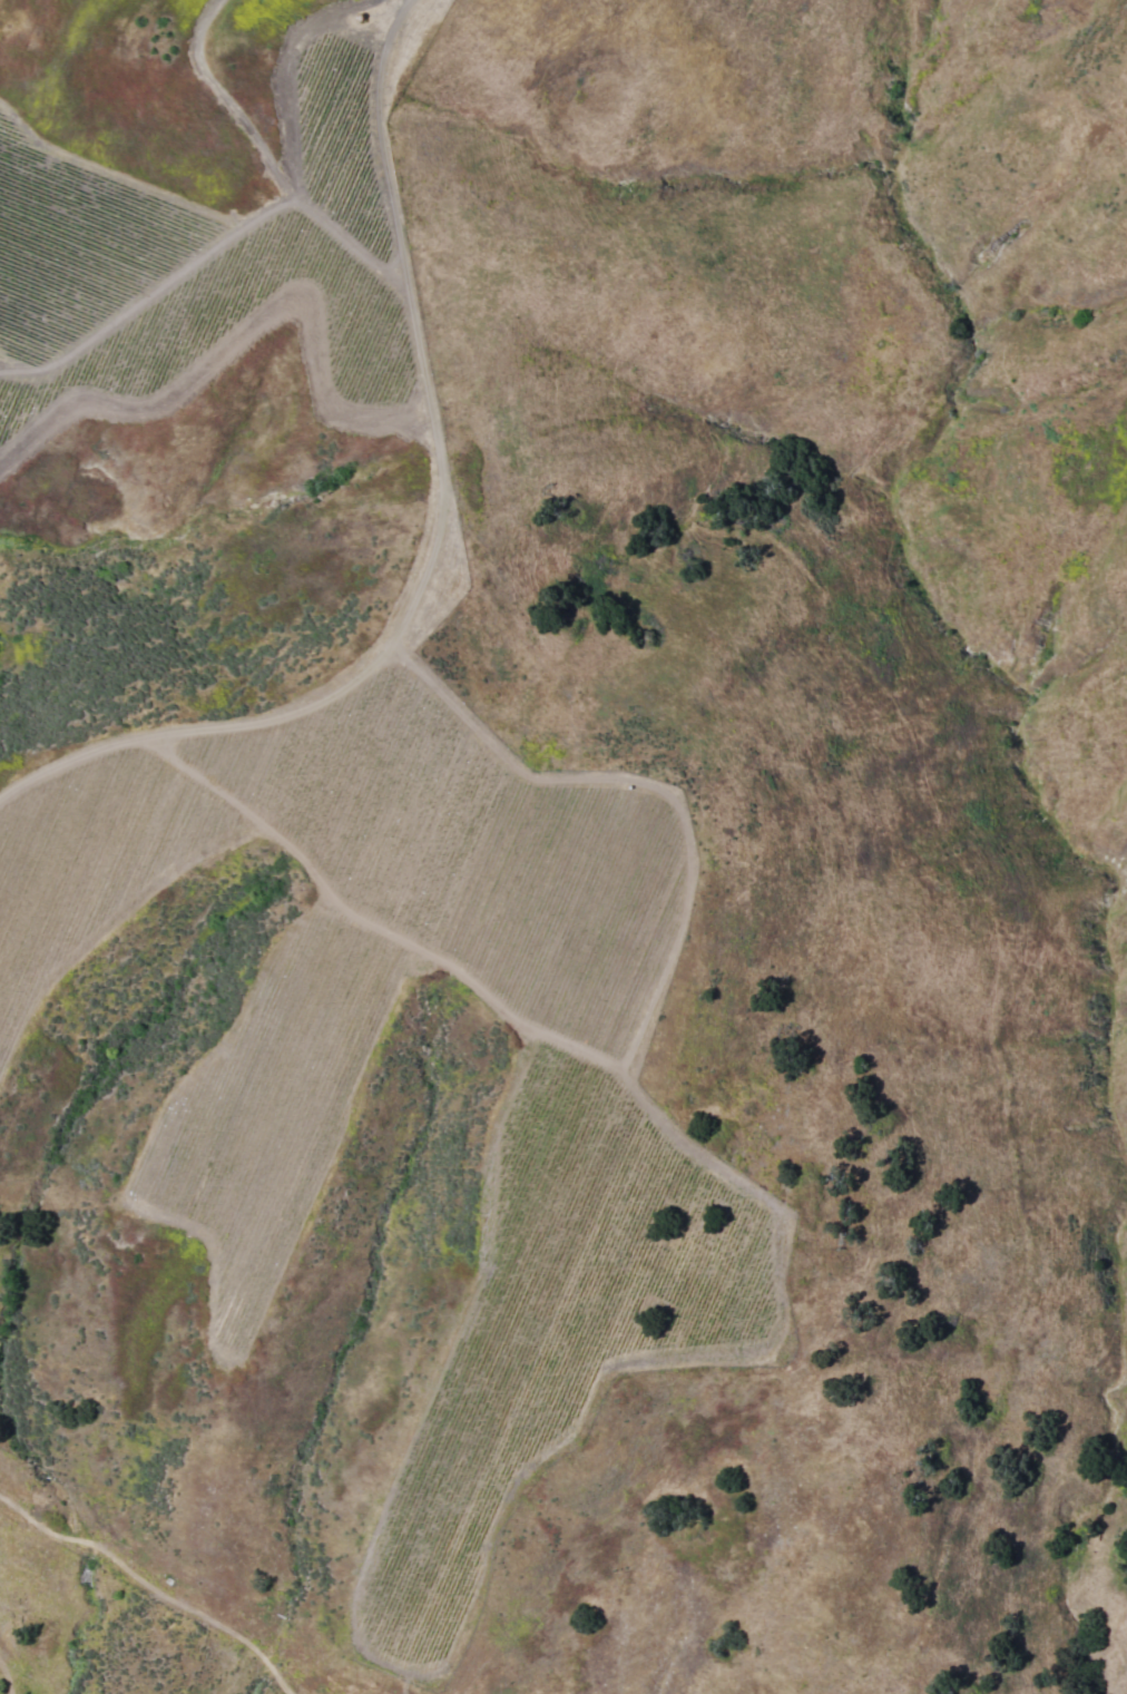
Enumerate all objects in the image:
crop: (208, 260)
road: (439, 540)
crop: (605, 1153)

